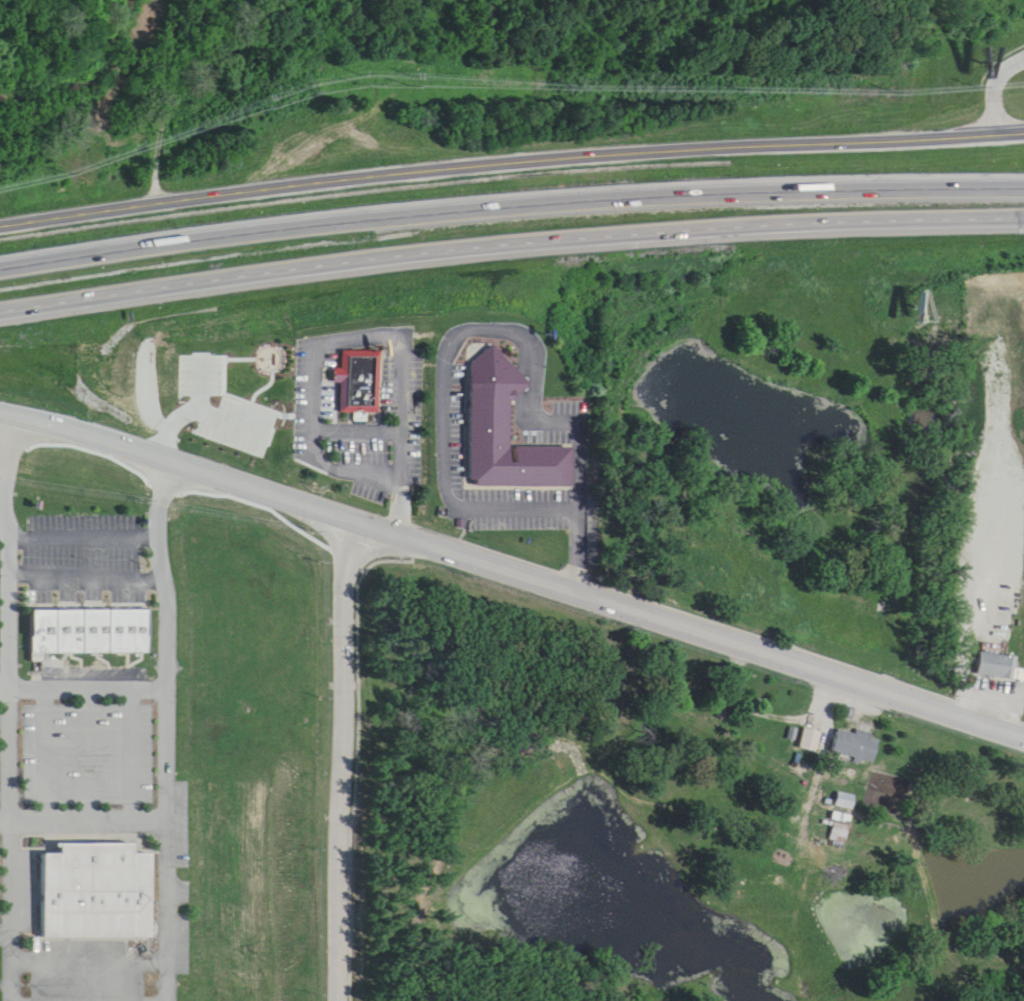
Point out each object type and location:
road: (992, 75)
road: (1005, 118)
road: (491, 155)
road: (510, 205)
road: (510, 244)
road: (447, 353)
road: (226, 359)
road: (256, 366)
building: (356, 366)
park: (241, 386)
road: (255, 396)
road: (311, 398)
building: (502, 416)
road: (210, 418)
road: (176, 424)
road: (357, 428)
road: (404, 436)
road: (167, 490)
road: (289, 490)
road: (4, 504)
road: (87, 527)
road: (88, 567)
building: (85, 618)
road: (801, 652)
building: (998, 653)
road: (87, 678)
road: (14, 701)
building: (811, 741)
road: (96, 745)
road: (140, 745)
road: (52, 746)
building: (857, 747)
road: (347, 756)
road: (90, 813)
building: (841, 834)
road: (181, 850)
building: (97, 891)
road: (6, 920)
road: (98, 956)
road: (11, 998)

